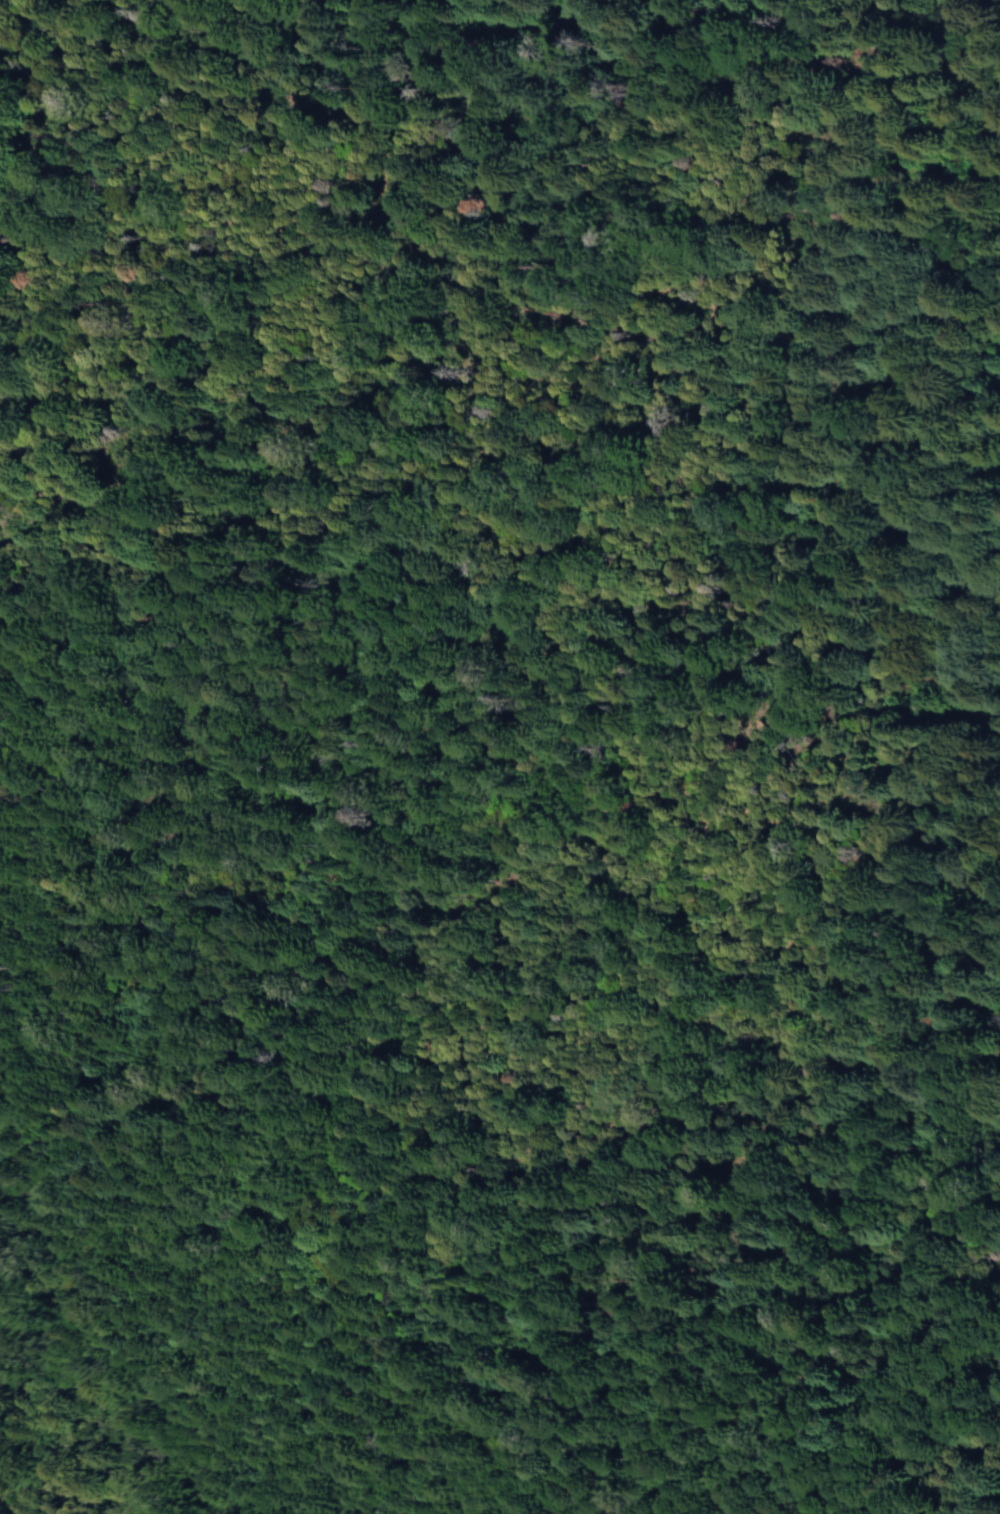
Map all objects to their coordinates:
road: (797, 9)
road: (893, 345)
road: (119, 1198)

